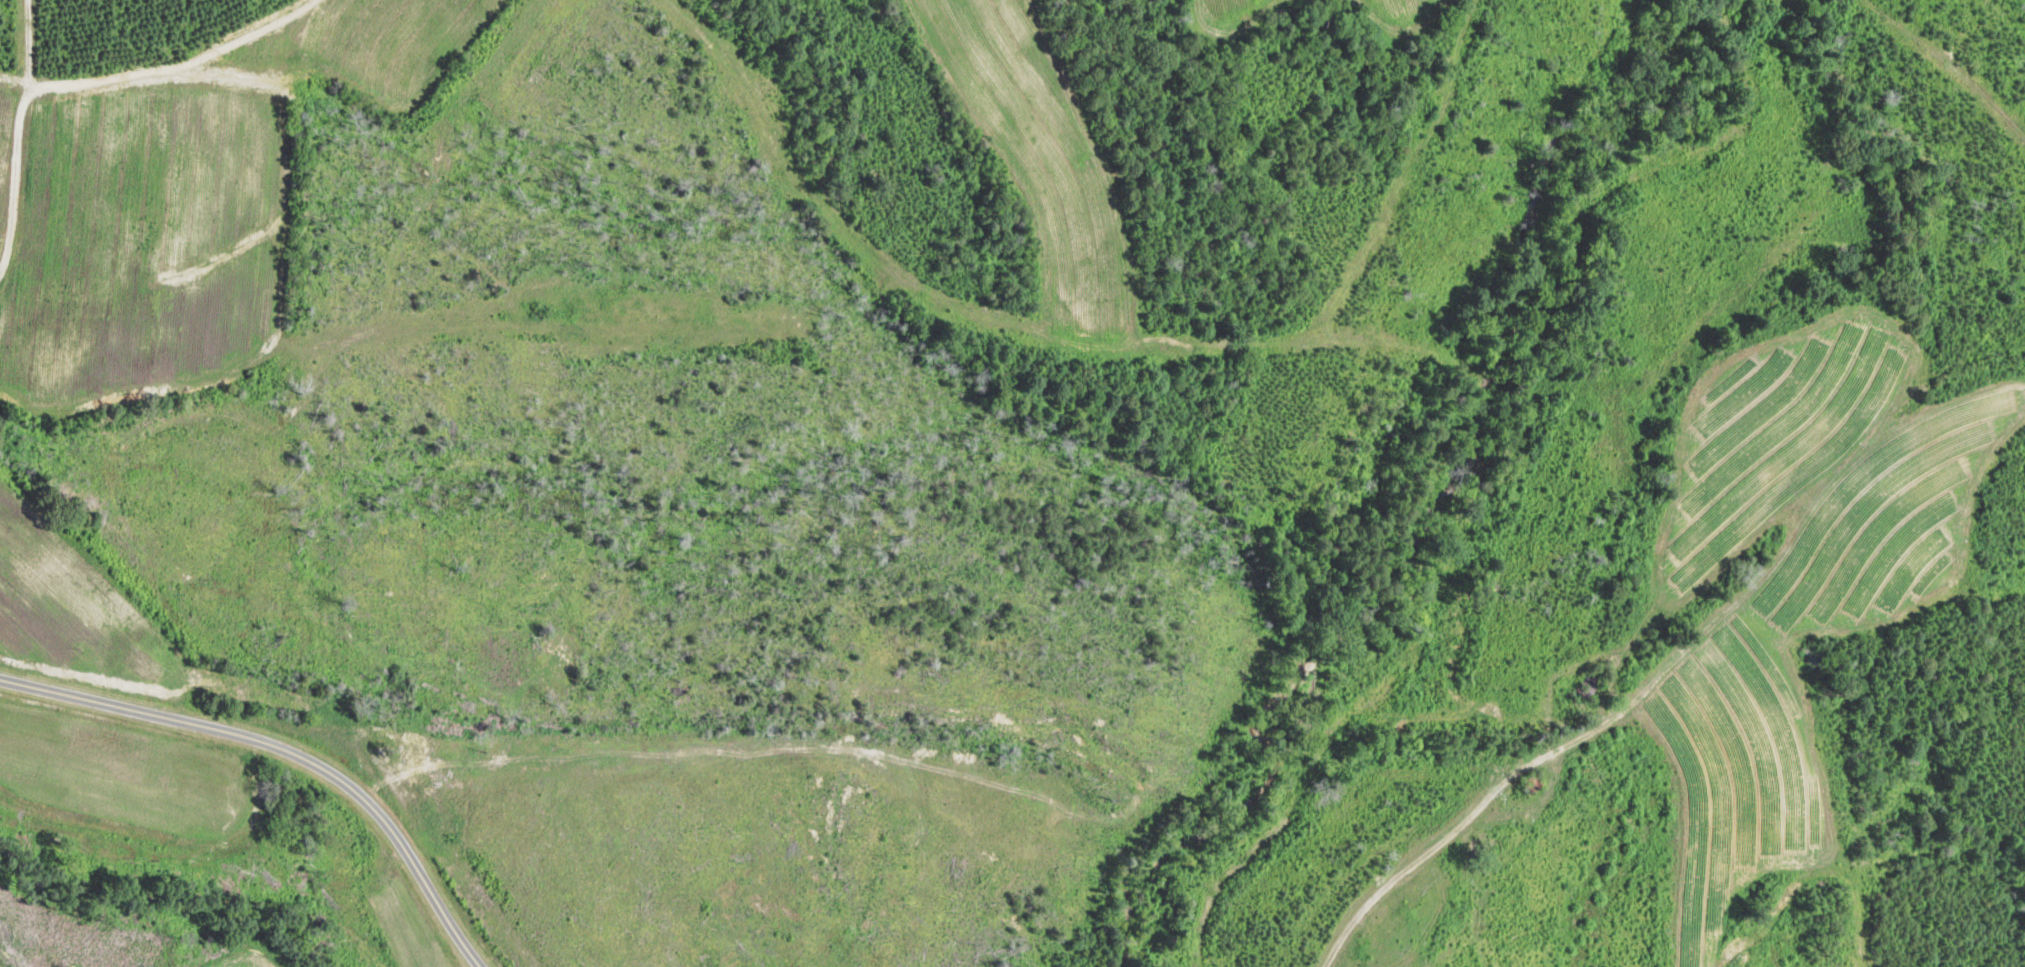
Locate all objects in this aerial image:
road: (1665, 668)
road: (286, 750)

